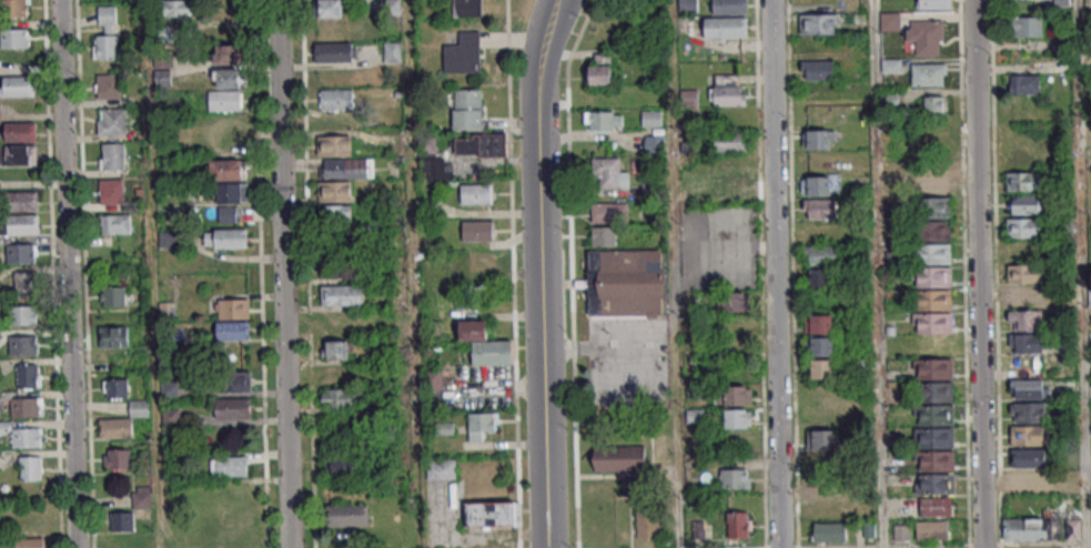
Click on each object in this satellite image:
building: (1061, 2)
building: (935, 3)
building: (687, 4)
building: (729, 7)
building: (13, 8)
building: (178, 8)
building: (465, 8)
building: (330, 9)
building: (819, 24)
building: (725, 27)
building: (1027, 27)
building: (107, 33)
building: (164, 33)
building: (925, 37)
building: (14, 38)
building: (393, 51)
building: (334, 52)
building: (229, 53)
building: (463, 53)
building: (599, 70)
building: (817, 70)
building: (927, 75)
building: (230, 78)
building: (1022, 84)
building: (17, 85)
building: (108, 87)
building: (727, 90)
building: (336, 99)
building: (224, 100)
building: (931, 106)
building: (466, 109)
building: (651, 118)
building: (603, 120)
building: (112, 121)
building: (20, 132)
building: (819, 139)
building: (730, 142)
building: (654, 143)
building: (479, 144)
building: (332, 145)
building: (20, 154)
building: (112, 156)
building: (226, 170)
building: (346, 170)
building: (608, 173)
building: (1022, 181)
building: (931, 183)
building: (817, 184)
building: (730, 187)
building: (112, 191)
building: (335, 192)
building: (232, 193)
building: (476, 194)
building: (21, 201)
building: (1026, 204)
building: (932, 207)
building: (819, 209)
building: (608, 212)
building: (228, 214)
building: (336, 214)
building: (20, 224)
building: (114, 224)
building: (1023, 227)
building: (477, 230)
building: (932, 231)
building: (603, 235)
building: (226, 237)
building: (20, 253)
building: (933, 253)
building: (820, 254)
building: (481, 260)
building: (340, 270)
road: (570, 271)
road: (539, 272)
building: (1024, 273)
road: (51, 274)
road: (68, 274)
road: (84, 274)
road: (283, 274)
road: (411, 274)
road: (512, 274)
road: (674, 274)
road: (775, 274)
road: (877, 274)
road: (977, 274)
road: (1082, 274)
building: (819, 277)
building: (931, 277)
building: (24, 283)
building: (625, 283)
building: (112, 295)
building: (343, 295)
building: (1026, 296)
building: (1089, 296)
building: (932, 300)
building: (736, 302)
building: (22, 315)
building: (233, 319)
building: (1024, 319)
building: (932, 322)
building: (820, 323)
building: (114, 336)
building: (1026, 343)
building: (22, 345)
building: (483, 345)
building: (821, 346)
building: (339, 349)
building: (821, 369)
building: (28, 375)
building: (232, 380)
building: (935, 380)
building: (115, 388)
building: (1028, 388)
building: (169, 389)
building: (340, 398)
building: (27, 406)
building: (139, 407)
building: (233, 408)
building: (1027, 412)
building: (936, 415)
building: (738, 418)
building: (481, 425)
building: (115, 427)
building: (21, 435)
building: (1027, 435)
building: (822, 438)
building: (935, 449)
building: (618, 457)
building: (117, 458)
building: (1028, 458)
building: (825, 461)
building: (345, 465)
building: (229, 466)
building: (30, 467)
building: (440, 470)
building: (734, 473)
building: (1028, 481)
building: (935, 484)
building: (826, 487)
building: (141, 497)
building: (936, 507)
building: (825, 508)
building: (491, 514)
building: (347, 515)
building: (647, 520)
building: (121, 521)
building: (738, 525)
building: (865, 529)
building: (1072, 529)
building: (931, 530)
building: (1029, 530)
building: (829, 532)
building: (901, 532)
building: (29, 542)

